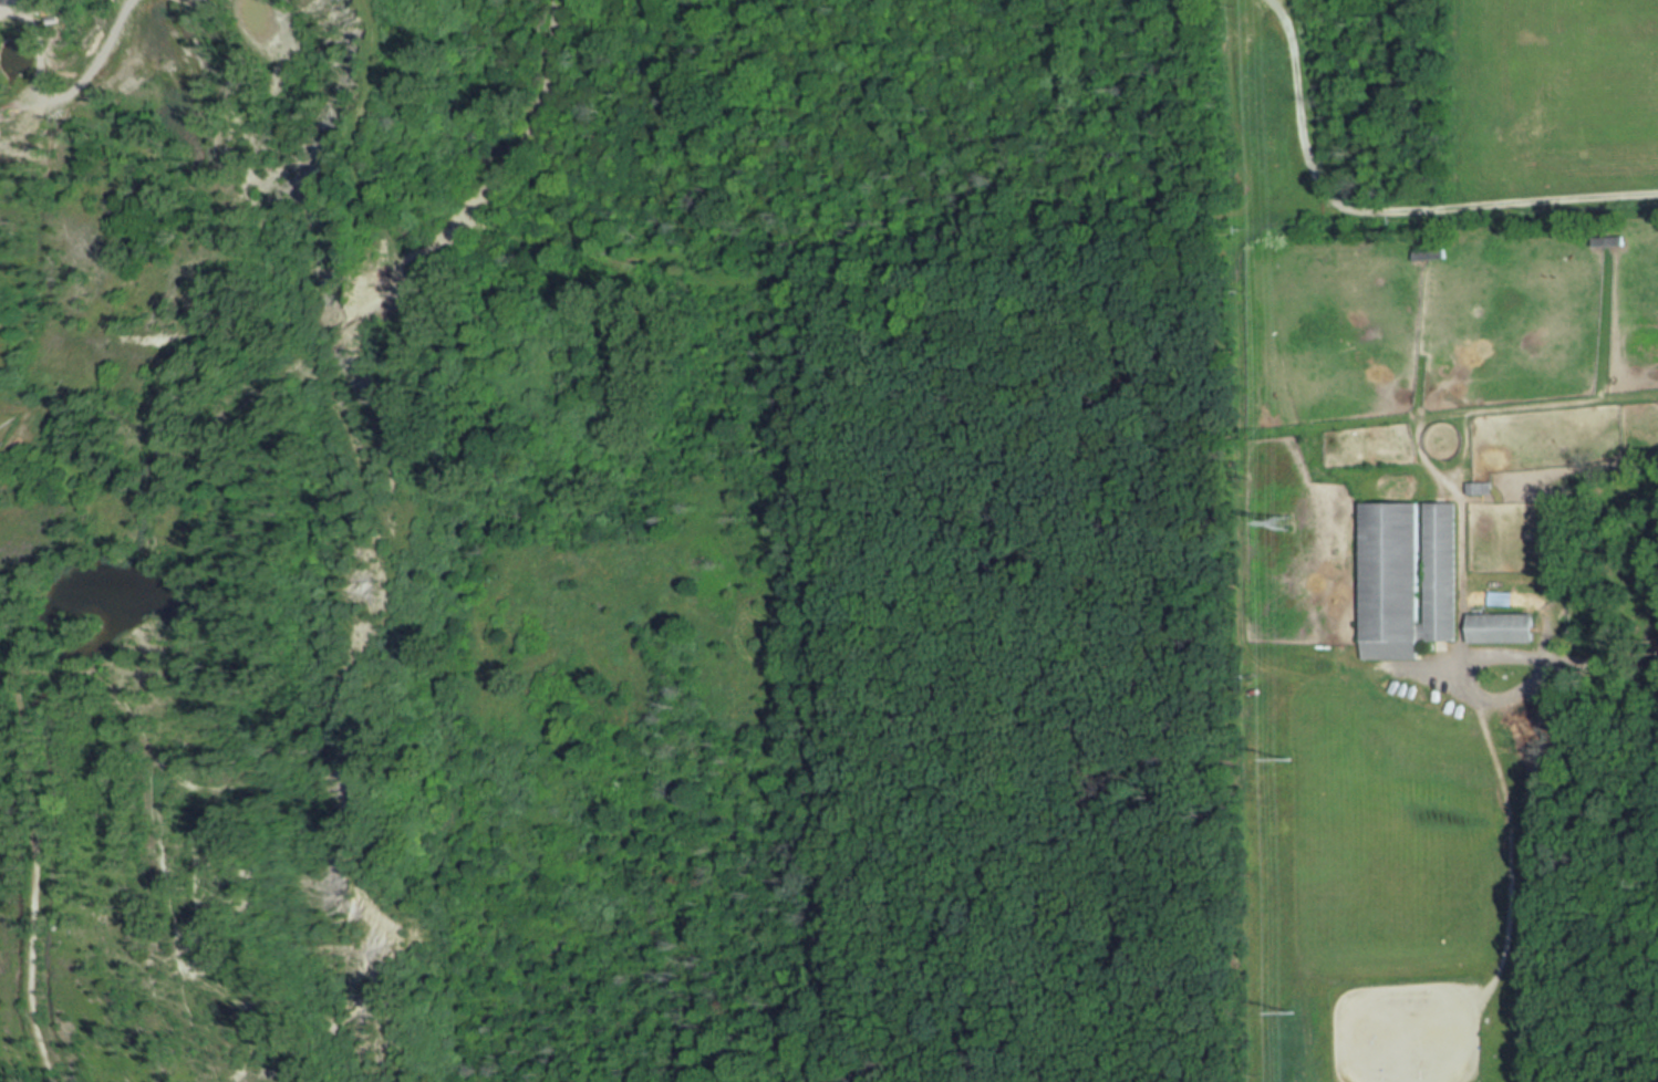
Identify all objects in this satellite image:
road: (1303, 103)
road: (1498, 201)
building: (1609, 242)
building: (1432, 257)
road: (728, 285)
building: (1482, 490)
power tower: (1284, 518)
building: (1409, 580)
building: (1504, 601)
road: (1552, 620)
building: (1504, 630)
road: (1286, 667)
road: (1432, 673)
road: (1617, 683)
road: (1488, 732)
road: (41, 839)
park: (1411, 1032)

